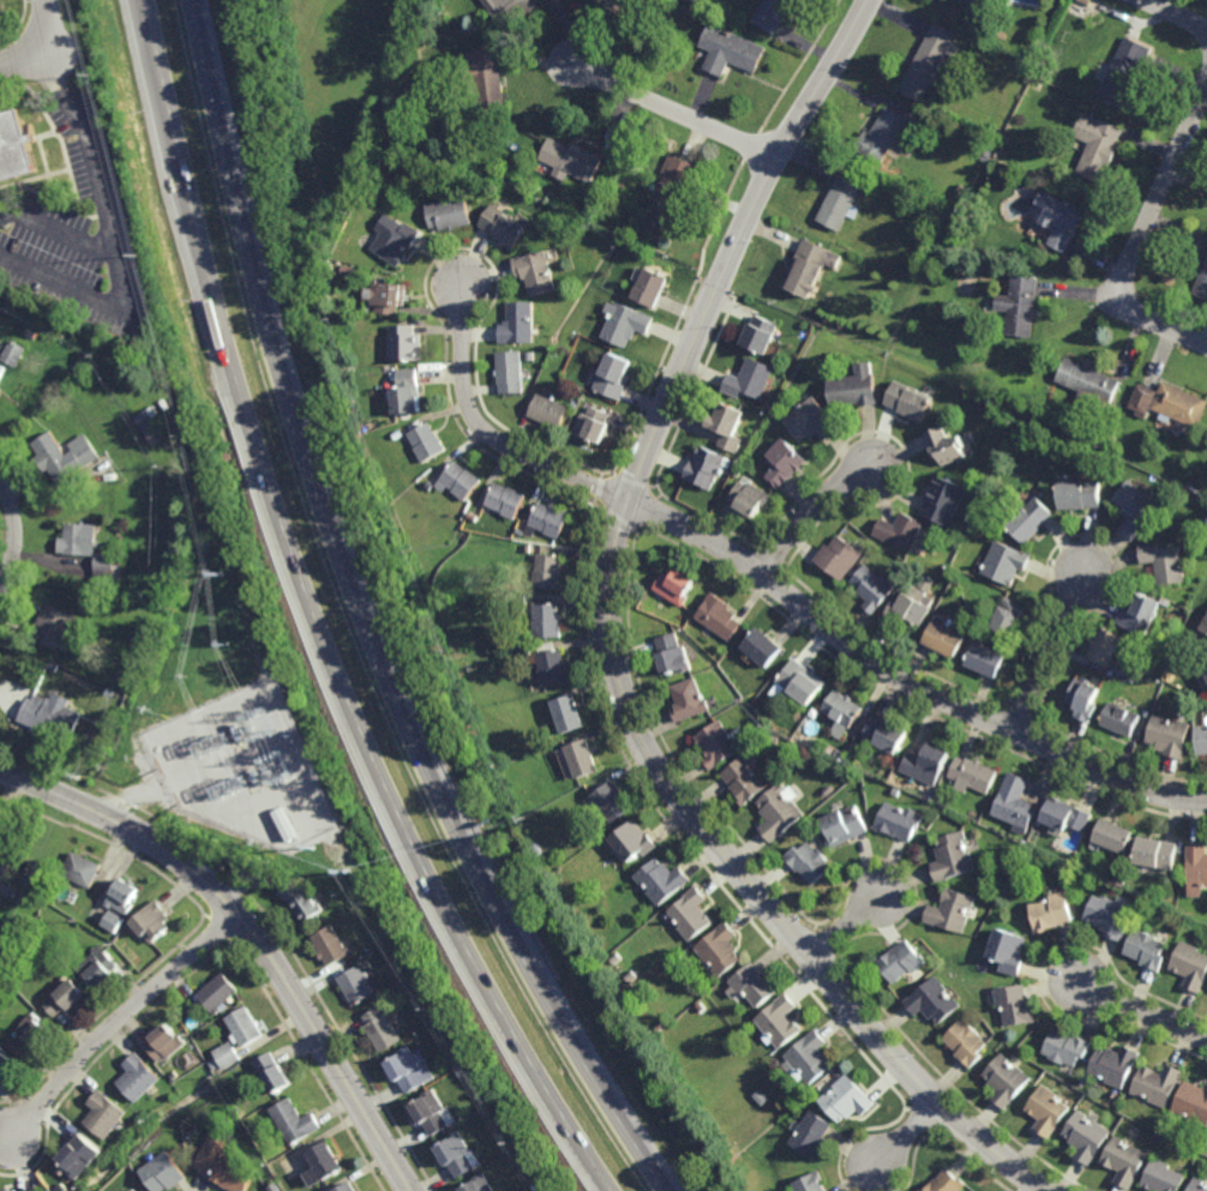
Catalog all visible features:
building: (983, 1)
building: (695, 2)
building: (613, 4)
building: (1079, 8)
building: (508, 10)
building: (773, 13)
road: (1177, 14)
road: (36, 43)
building: (731, 52)
building: (1034, 55)
building: (931, 62)
power tower: (91, 67)
building: (1029, 68)
building: (1123, 72)
building: (484, 78)
building: (1038, 84)
road: (673, 112)
building: (882, 137)
building: (14, 146)
building: (1001, 146)
building: (1097, 146)
building: (570, 161)
building: (894, 170)
building: (887, 187)
building: (671, 193)
building: (366, 199)
building: (840, 203)
building: (590, 209)
building: (448, 215)
building: (1062, 221)
building: (502, 227)
road: (56, 229)
road: (109, 235)
road: (1141, 236)
building: (394, 240)
building: (957, 246)
power tower: (139, 254)
building: (811, 267)
building: (534, 273)
building: (1202, 282)
building: (650, 287)
building: (385, 297)
building: (1020, 306)
building: (517, 324)
building: (626, 325)
building: (34, 333)
building: (761, 336)
building: (403, 344)
building: (14, 354)
building: (528, 356)
building: (1, 368)
building: (509, 373)
building: (613, 377)
building: (749, 381)
building: (1087, 381)
building: (854, 389)
building: (406, 393)
building: (1141, 401)
building: (909, 402)
building: (572, 404)
building: (1177, 407)
building: (548, 411)
building: (1008, 420)
building: (152, 421)
building: (811, 422)
building: (593, 426)
building: (727, 428)
building: (395, 435)
building: (1100, 440)
power tower: (190, 441)
building: (425, 443)
building: (947, 447)
building: (1122, 449)
building: (1125, 452)
building: (65, 456)
building: (783, 464)
building: (707, 468)
building: (738, 474)
building: (458, 481)
building: (430, 487)
building: (1193, 488)
building: (1082, 497)
building: (749, 500)
building: (505, 501)
building: (944, 501)
building: (1201, 503)
building: (1133, 510)
building: (476, 513)
road: (811, 513)
building: (547, 522)
building: (1033, 522)
building: (1205, 527)
building: (520, 533)
building: (901, 533)
road: (17, 536)
building: (529, 549)
building: (88, 551)
building: (839, 559)
building: (1163, 564)
building: (1005, 565)
building: (548, 573)
power tower: (222, 576)
road: (779, 587)
building: (677, 589)
building: (872, 590)
building: (524, 601)
building: (914, 607)
building: (1139, 615)
road: (317, 619)
building: (720, 619)
road: (365, 620)
building: (1011, 620)
building: (547, 621)
building: (1205, 628)
building: (55, 630)
building: (137, 634)
building: (944, 638)
building: (763, 646)
building: (1105, 646)
road: (612, 648)
building: (529, 650)
road: (1049, 650)
building: (674, 654)
building: (1161, 657)
building: (987, 658)
building: (1135, 658)
building: (1205, 666)
building: (554, 667)
building: (801, 679)
building: (1203, 684)
building: (1085, 697)
building: (690, 698)
building: (1158, 708)
building: (842, 710)
building: (569, 712)
building: (50, 716)
building: (1121, 718)
building: (761, 727)
building: (887, 732)
building: (1167, 735)
building: (774, 738)
building: (1200, 740)
building: (719, 742)
building: (840, 754)
building: (818, 757)
building: (582, 758)
building: (927, 762)
power substation: (246, 766)
building: (974, 772)
building: (744, 778)
building: (828, 790)
building: (897, 792)
building: (611, 801)
building: (1016, 802)
building: (777, 812)
building: (1064, 816)
building: (899, 820)
building: (846, 825)
building: (807, 829)
building: (1113, 835)
building: (635, 840)
building: (1155, 853)
building: (6, 855)
building: (953, 856)
building: (809, 861)
building: (1196, 868)
building: (82, 870)
power tower: (348, 871)
building: (662, 880)
building: (979, 884)
building: (7, 890)
building: (124, 896)
building: (302, 902)
building: (1147, 904)
building: (951, 910)
building: (1052, 912)
building: (692, 914)
building: (1110, 914)
building: (115, 922)
building: (154, 922)
road: (845, 924)
road: (250, 932)
building: (112, 938)
building: (331, 946)
building: (721, 949)
building: (1009, 950)
building: (1146, 950)
building: (900, 961)
building: (1190, 966)
building: (98, 968)
building: (752, 985)
building: (356, 986)
building: (220, 993)
building: (1, 995)
building: (66, 999)
building: (933, 1000)
building: (1016, 1004)
road: (1145, 1006)
building: (190, 1007)
building: (699, 1007)
power tower: (433, 1012)
road: (118, 1018)
building: (779, 1022)
building: (659, 1027)
building: (245, 1028)
building: (382, 1030)
building: (31, 1036)
building: (967, 1042)
building: (167, 1043)
building: (1068, 1047)
building: (731, 1049)
building: (229, 1055)
building: (810, 1058)
building: (215, 1065)
building: (1115, 1065)
building: (7, 1067)
building: (410, 1070)
building: (275, 1073)
building: (174, 1076)
building: (138, 1078)
building: (1007, 1079)
building: (1157, 1085)
building: (759, 1097)
building: (847, 1100)
building: (1193, 1103)
building: (1049, 1111)
building: (431, 1113)
building: (104, 1114)
building: (296, 1123)
road: (907, 1132)
building: (811, 1135)
building: (1088, 1136)
power tower: (516, 1145)
building: (94, 1148)
building: (456, 1156)
building: (77, 1162)
building: (1125, 1162)
building: (226, 1163)
building: (324, 1166)
building: (164, 1173)
building: (1161, 1178)
building: (810, 1183)
building: (947, 1183)
building: (480, 1185)
building: (1197, 1185)
building: (348, 1187)
building: (538, 1189)
building: (32, 1190)
building: (133, 1190)
building: (134, 1190)

